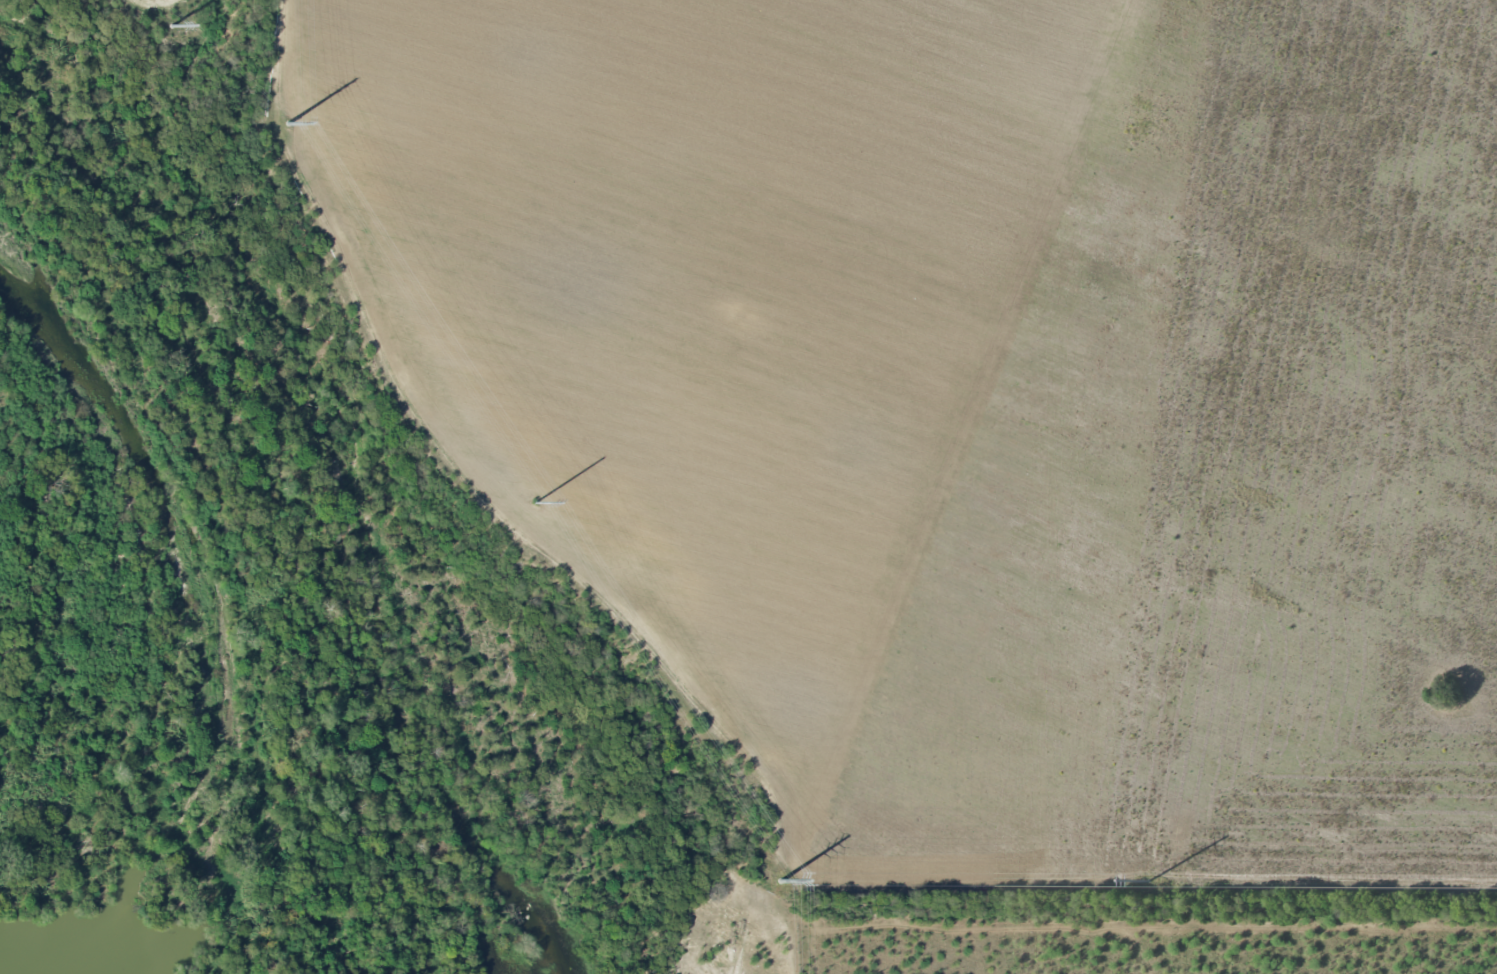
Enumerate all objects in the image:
power tower: (171, 25)
power tower: (288, 123)
power tower: (535, 502)
power tower: (781, 881)
power tower: (1148, 881)

